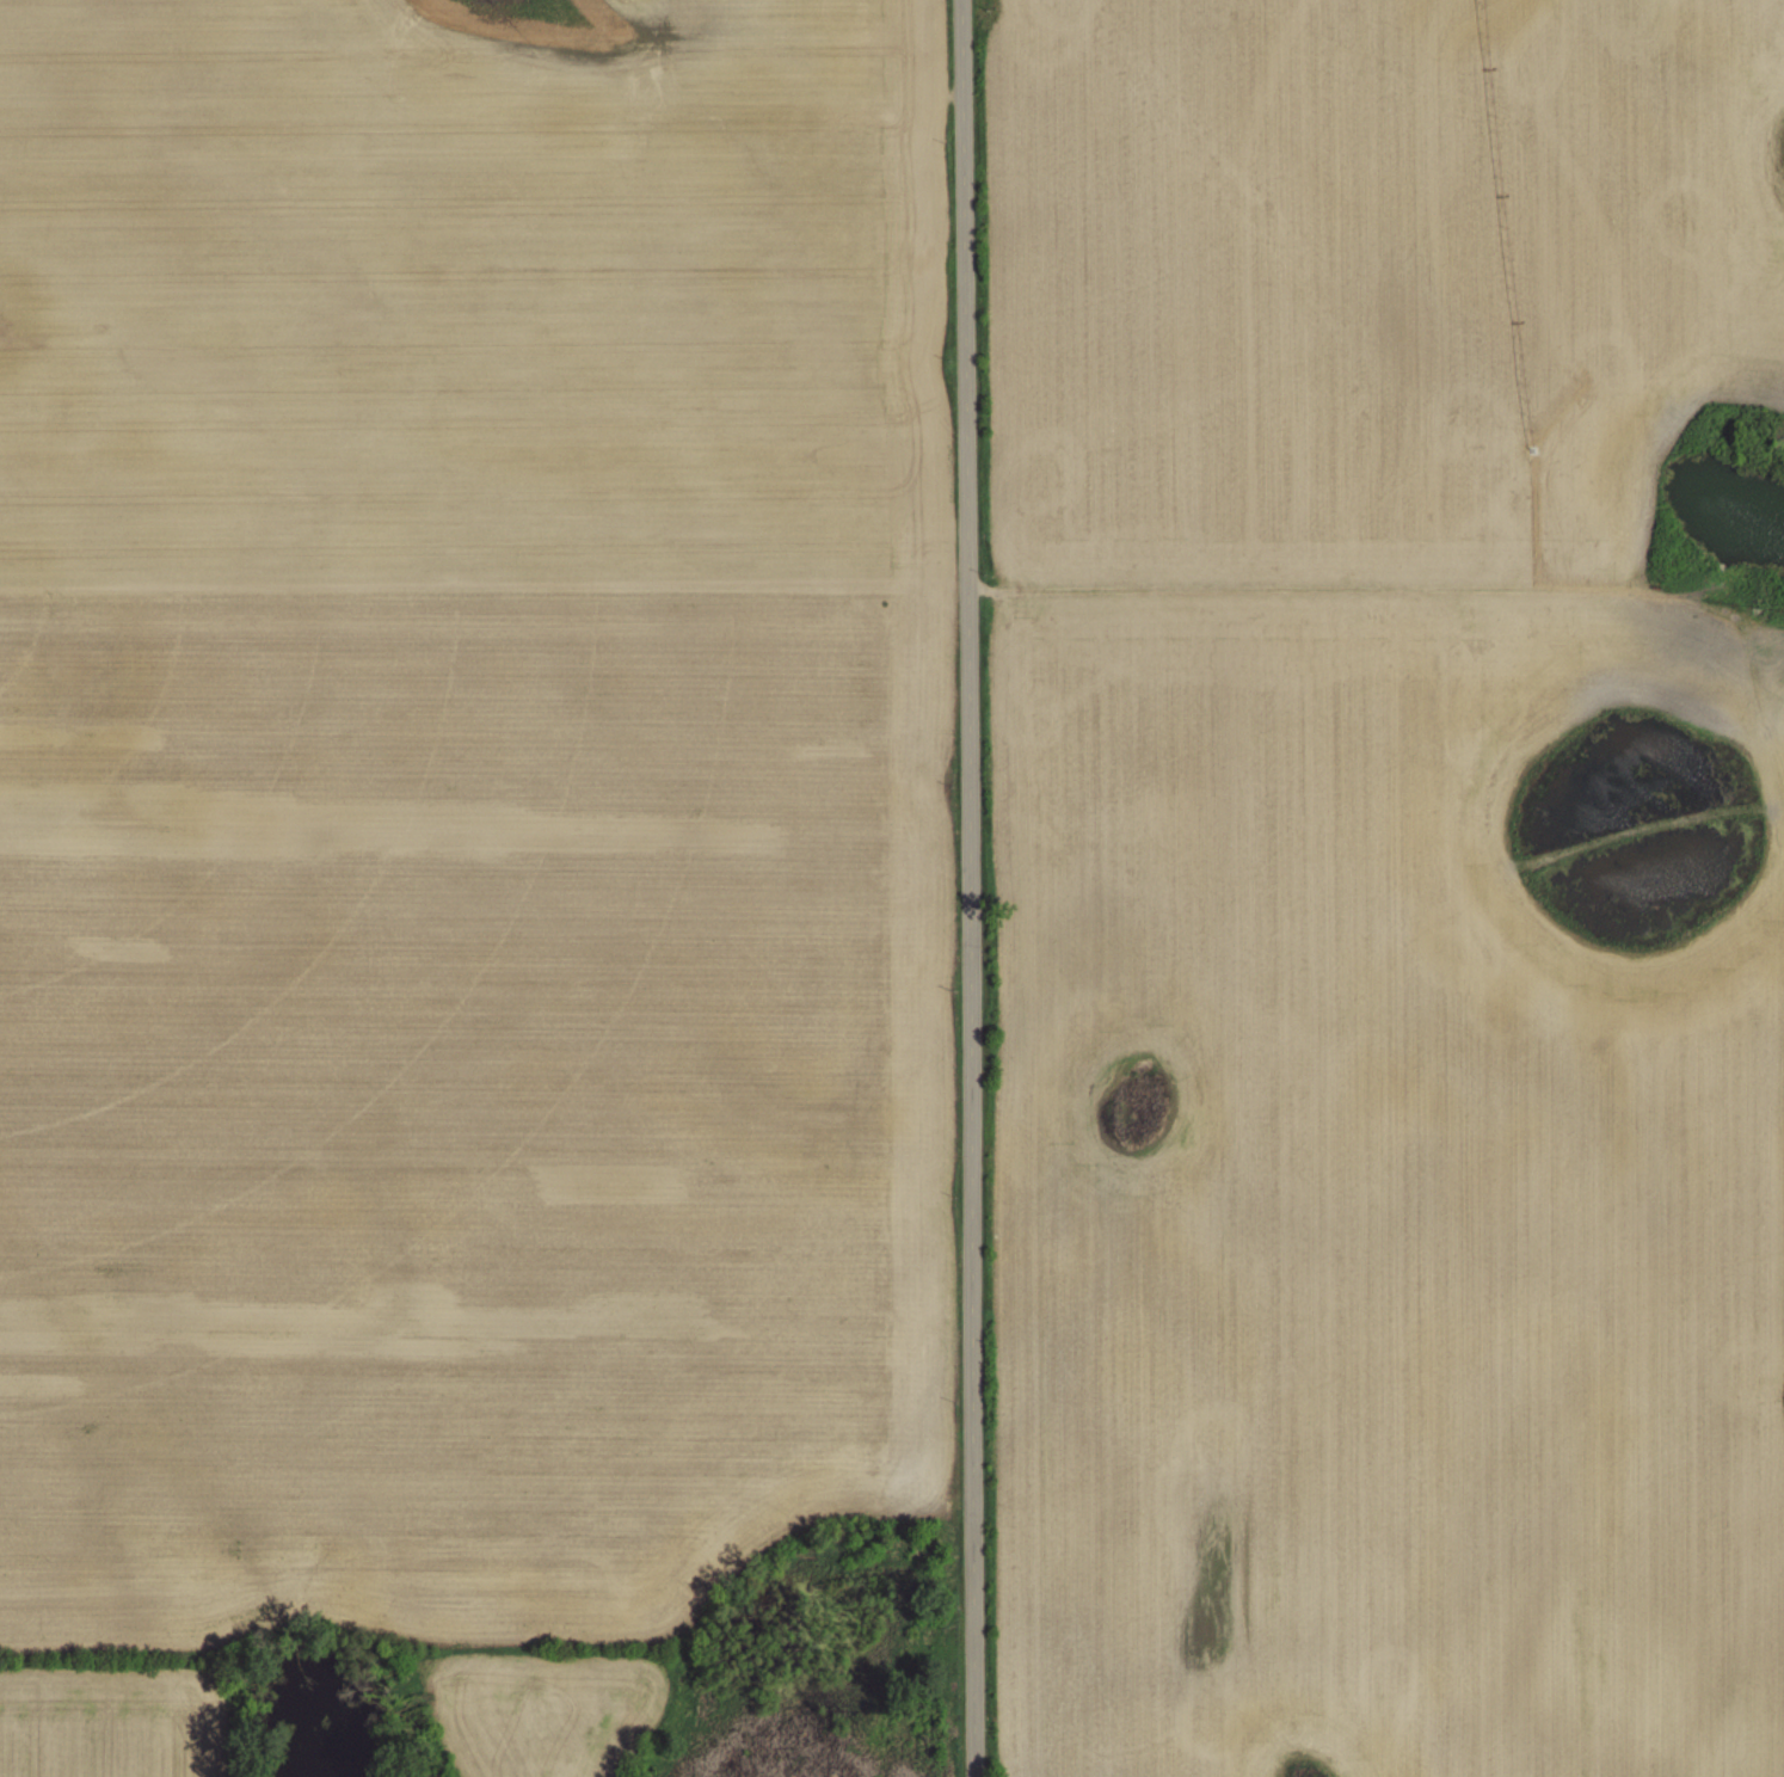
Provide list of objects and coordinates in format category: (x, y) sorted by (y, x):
road: (961, 889)

